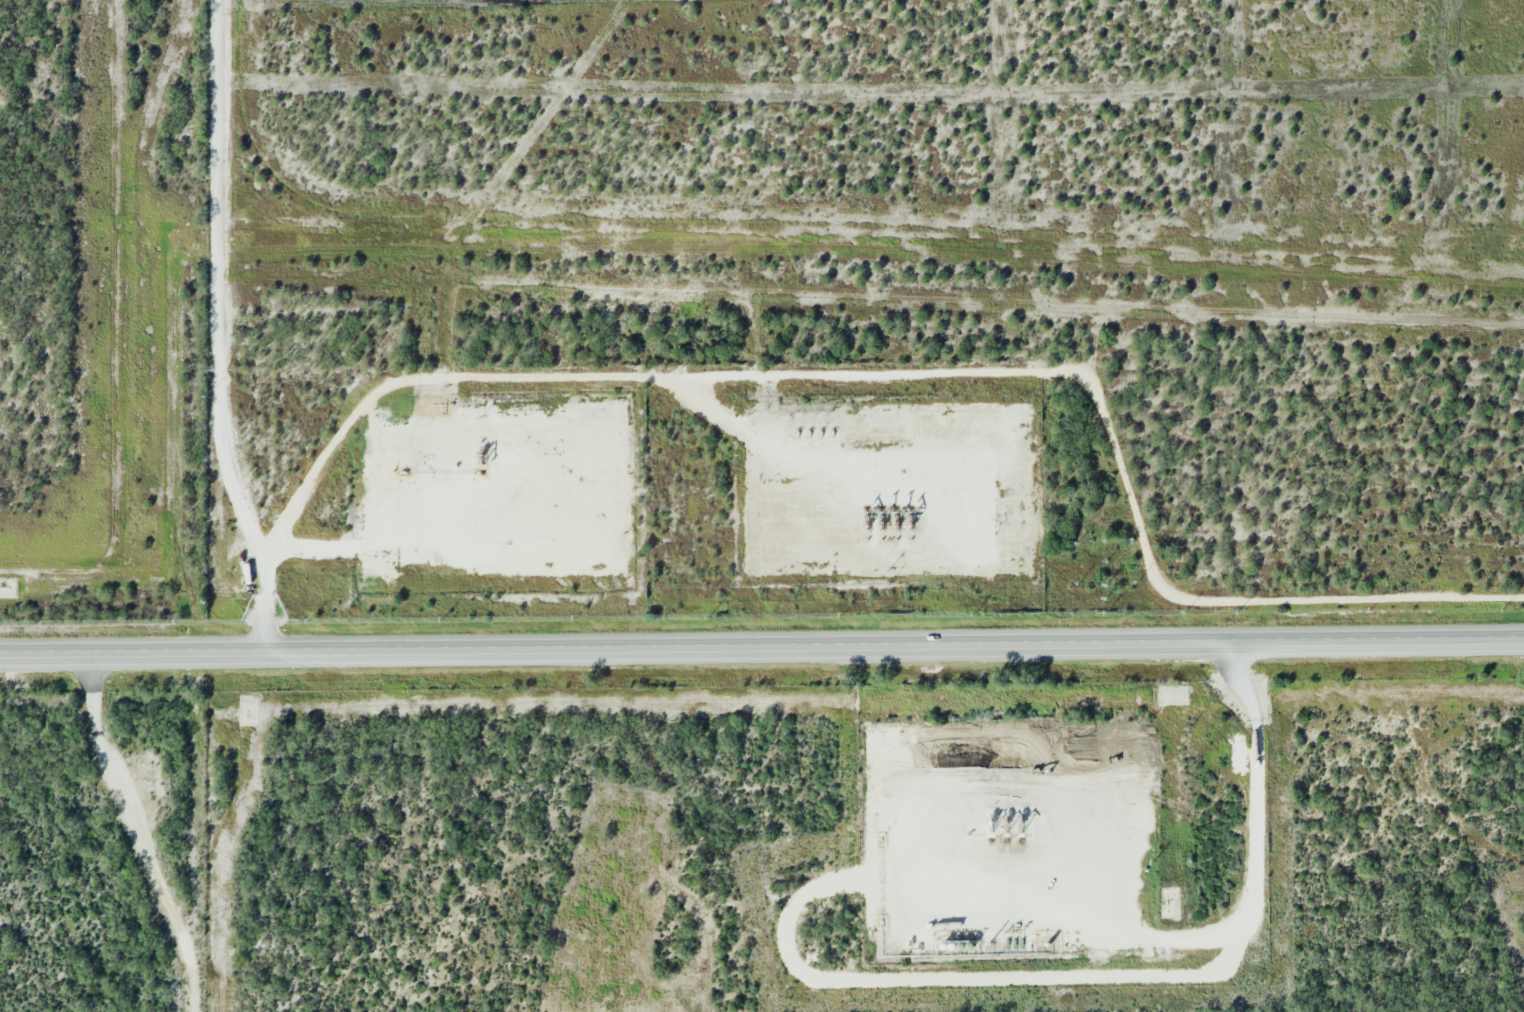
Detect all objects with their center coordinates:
road: (222, 334)
petroleum well: (883, 514)
road: (762, 653)
petroleum well: (999, 824)
road: (140, 838)

